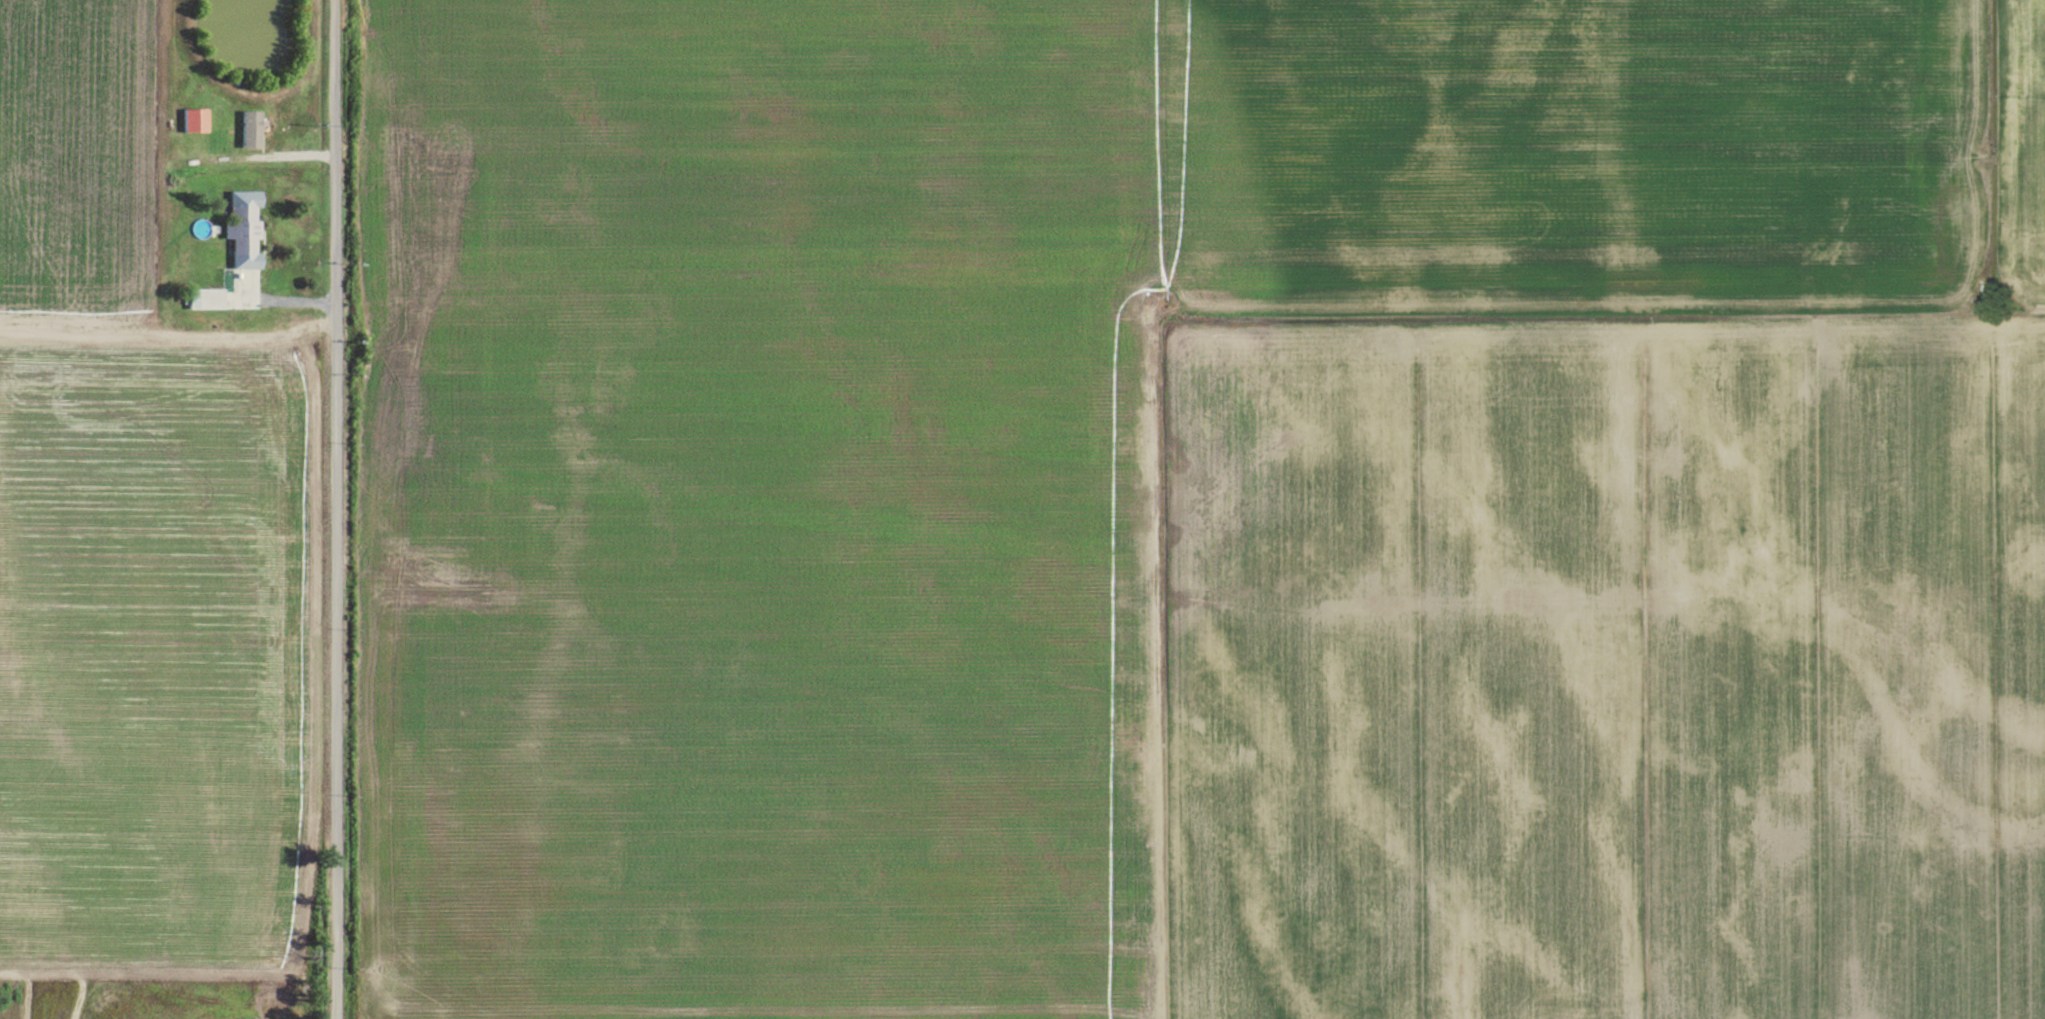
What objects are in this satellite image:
building: (192, 119)
building: (249, 129)
building: (240, 227)
building: (203, 297)
road: (268, 300)
road: (44, 319)
road: (334, 509)

